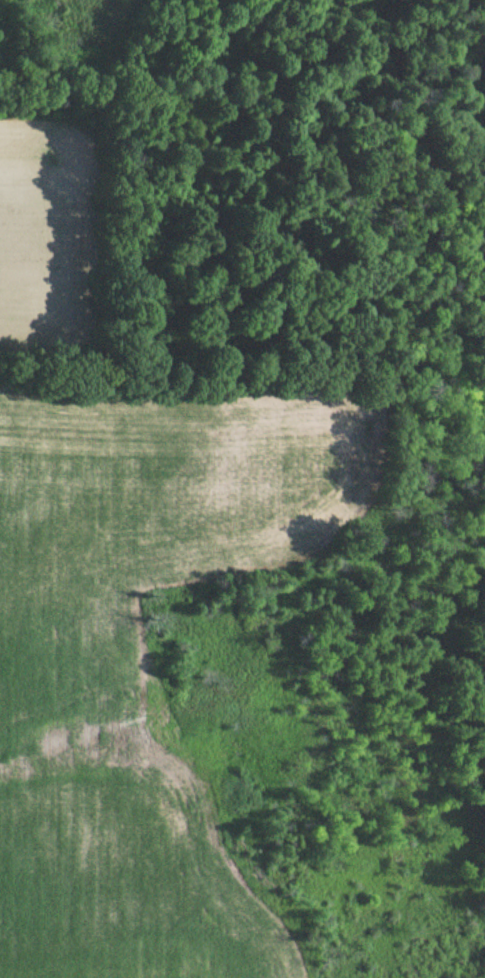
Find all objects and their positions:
crop: (49, 231)

